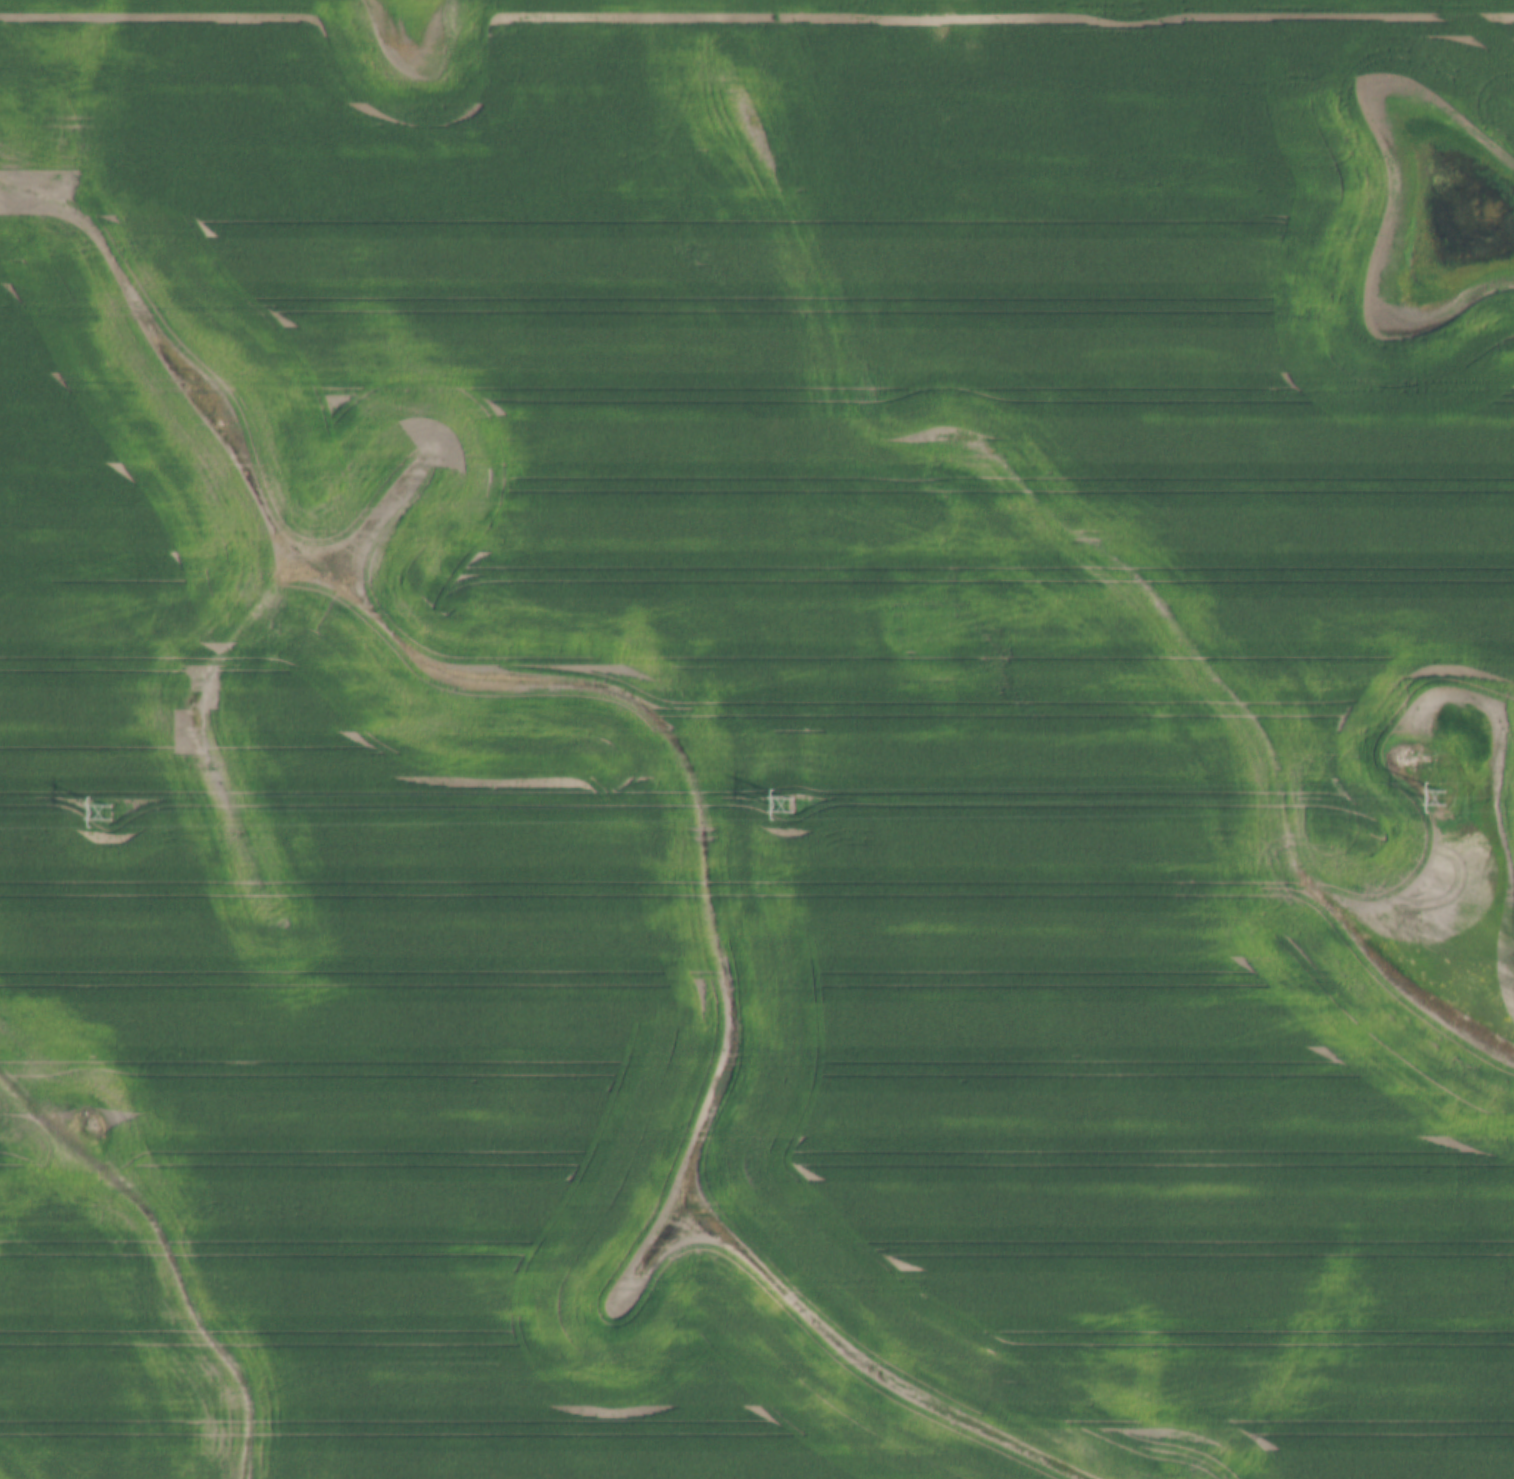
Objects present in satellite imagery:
road: (874, 739)
power tower: (1443, 800)
power tower: (786, 806)
power tower: (108, 815)

